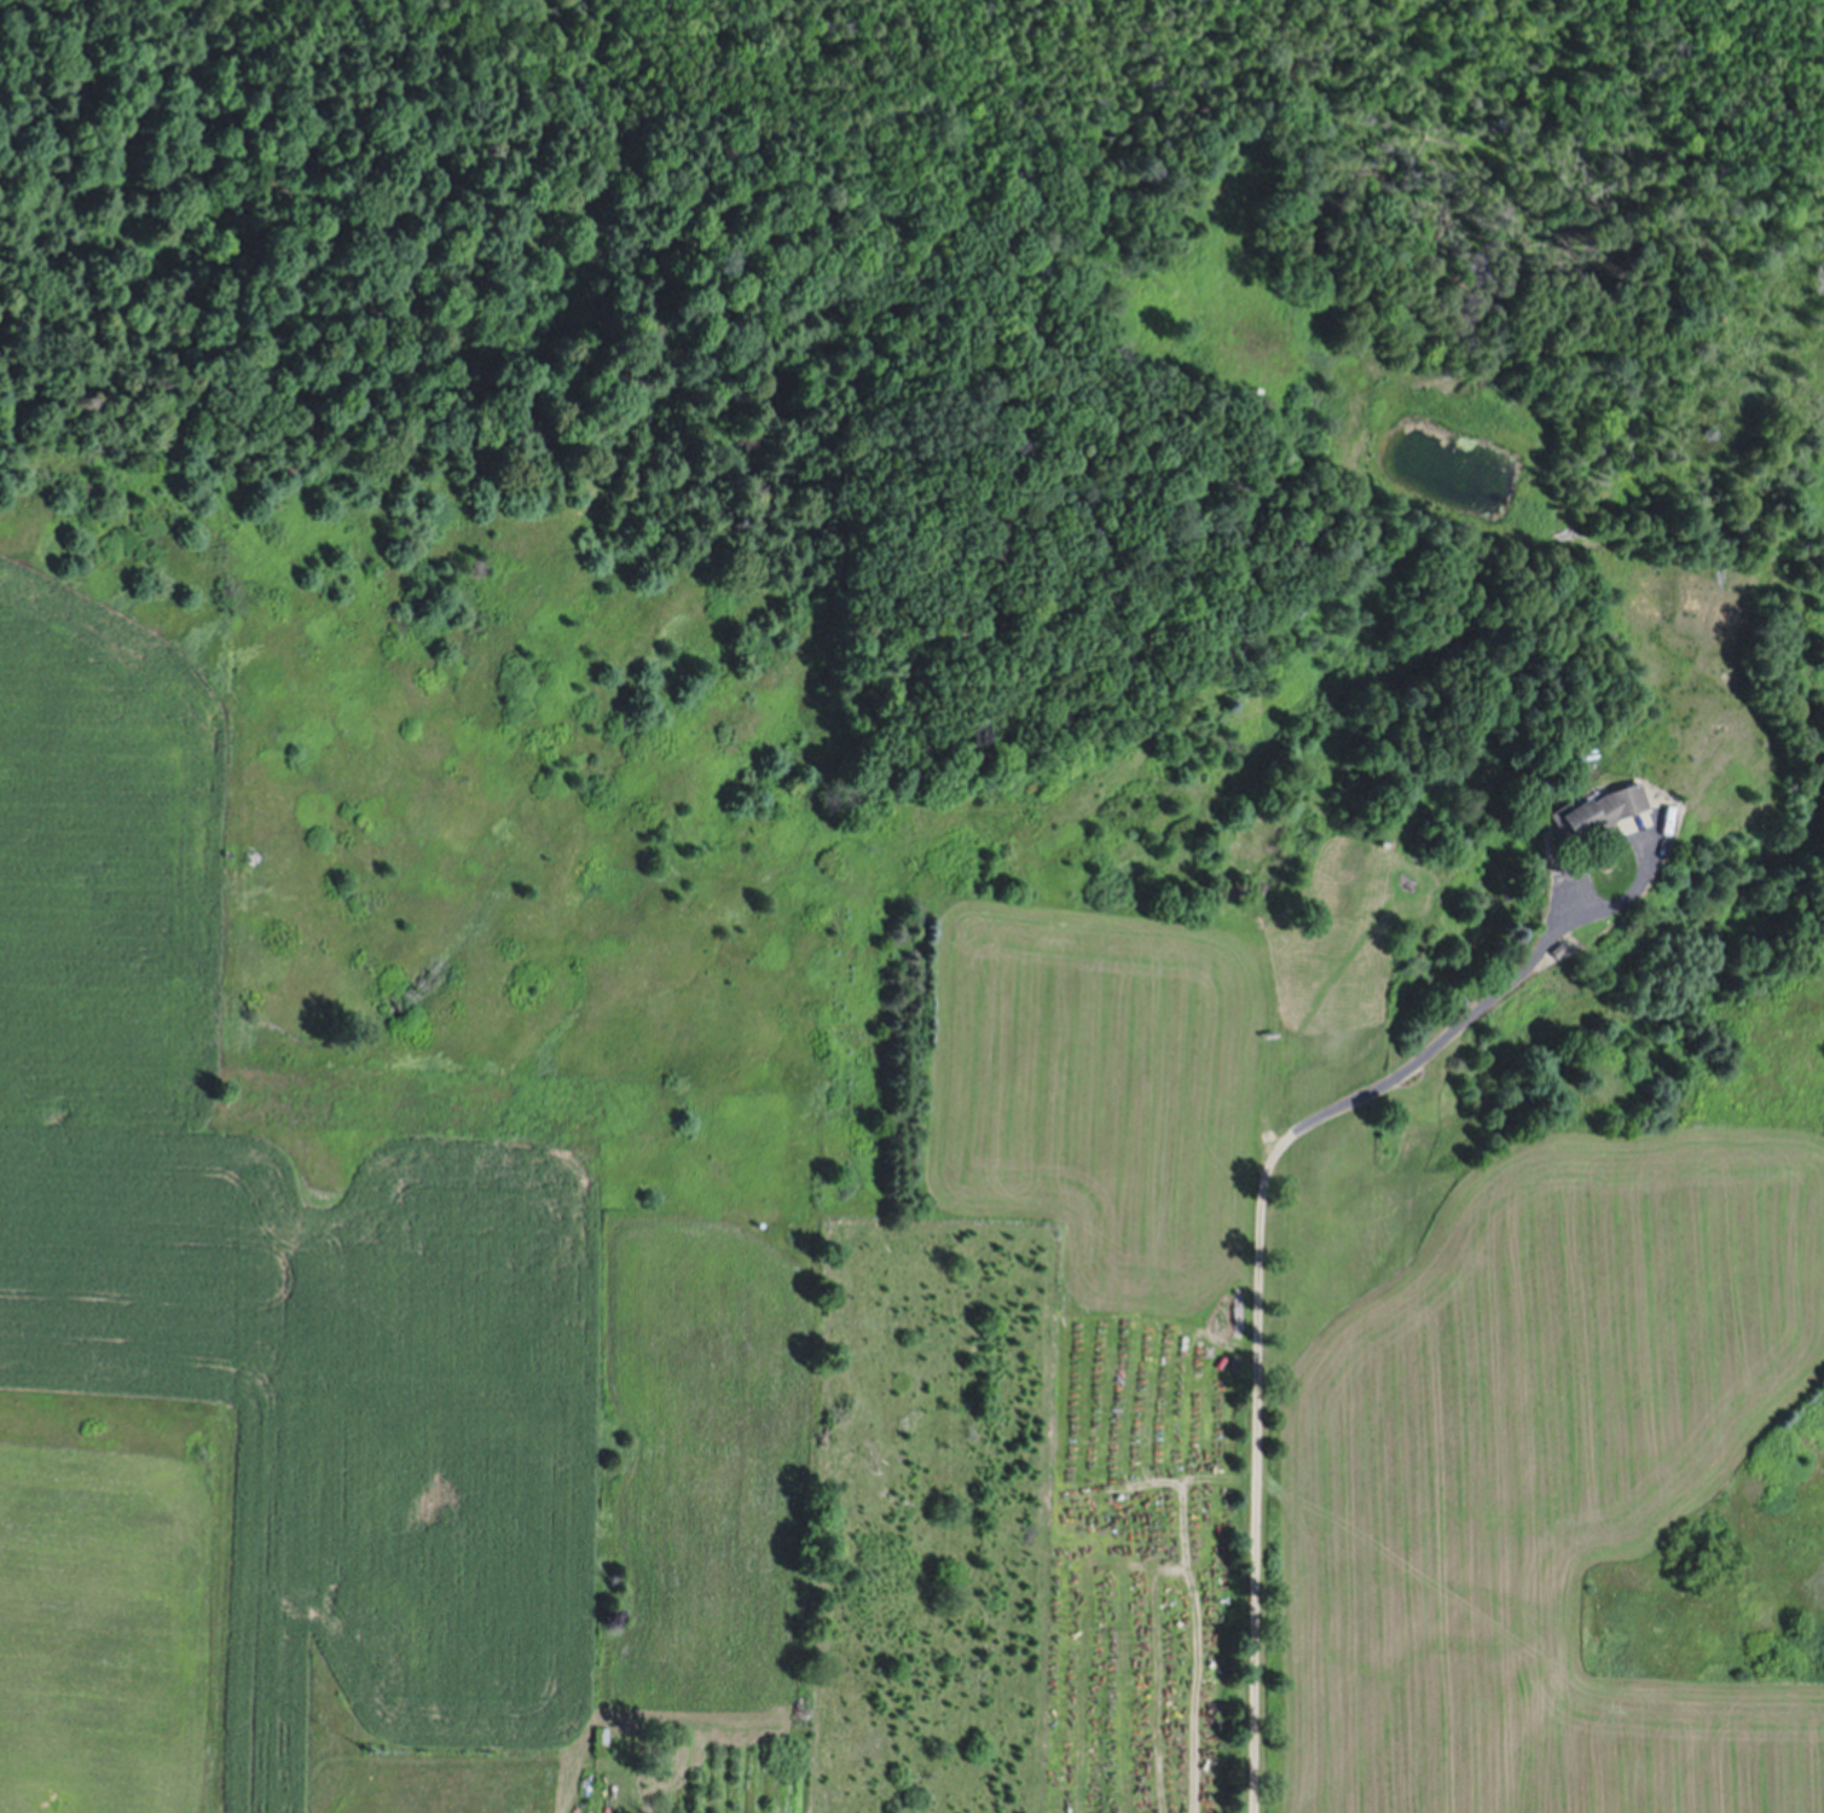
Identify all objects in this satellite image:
building: (1596, 809)
building: (1560, 949)
road: (1262, 1309)
building: (602, 1738)

